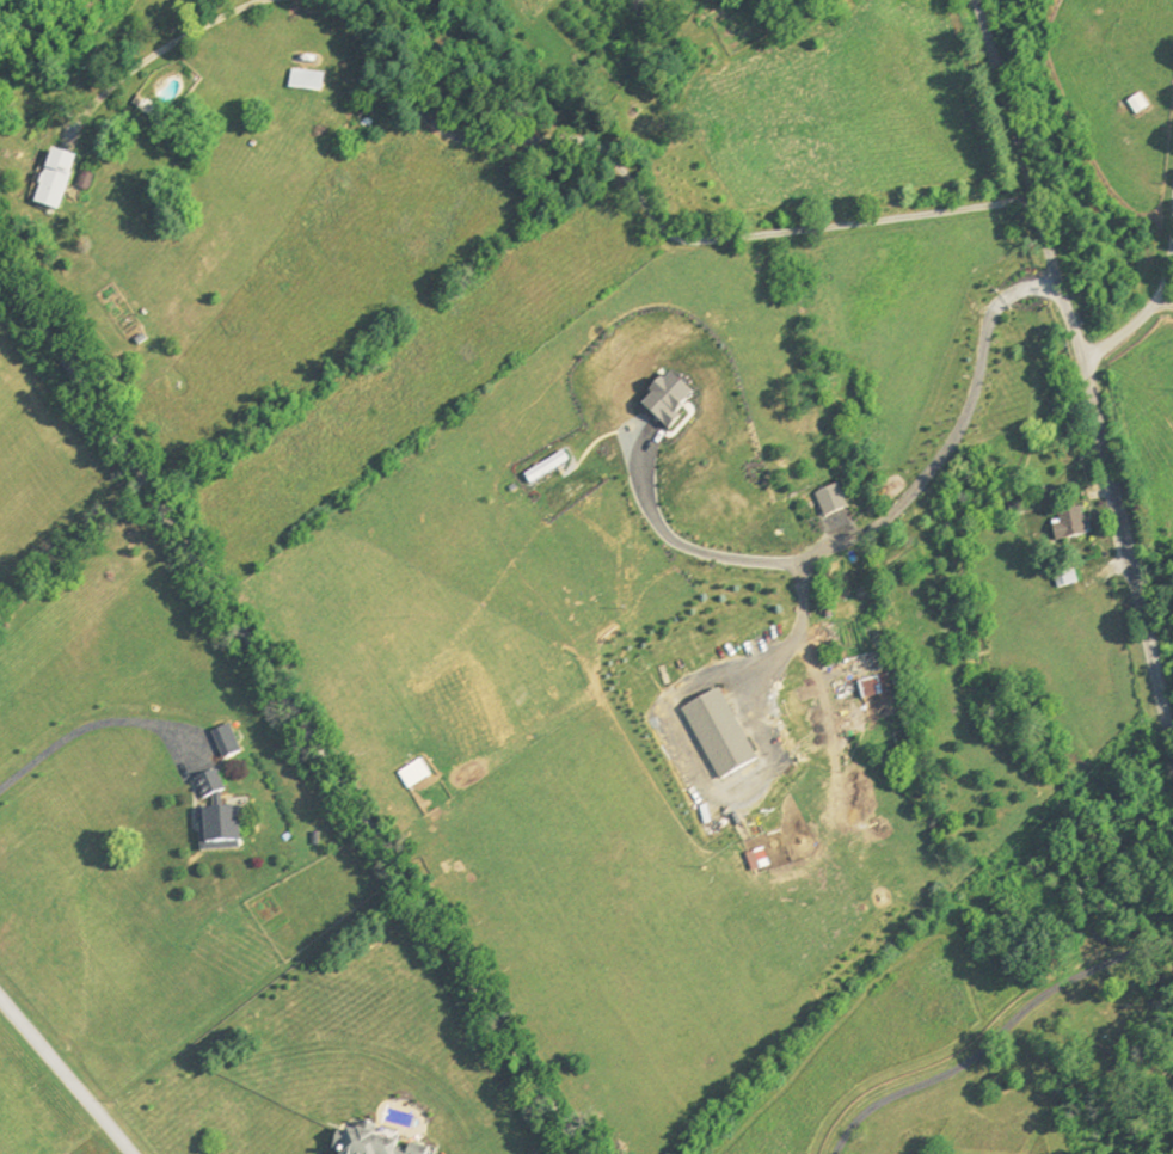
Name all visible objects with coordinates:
road: (161, 49)
building: (301, 84)
building: (1134, 108)
building: (49, 184)
road: (633, 191)
road: (1150, 295)
road: (1157, 305)
road: (1076, 370)
road: (877, 518)
building: (1068, 524)
building: (871, 687)
road: (293, 704)
road: (90, 725)
building: (222, 742)
building: (205, 786)
building: (214, 830)
road: (995, 1036)
road: (66, 1075)
building: (361, 1144)
building: (417, 1149)

